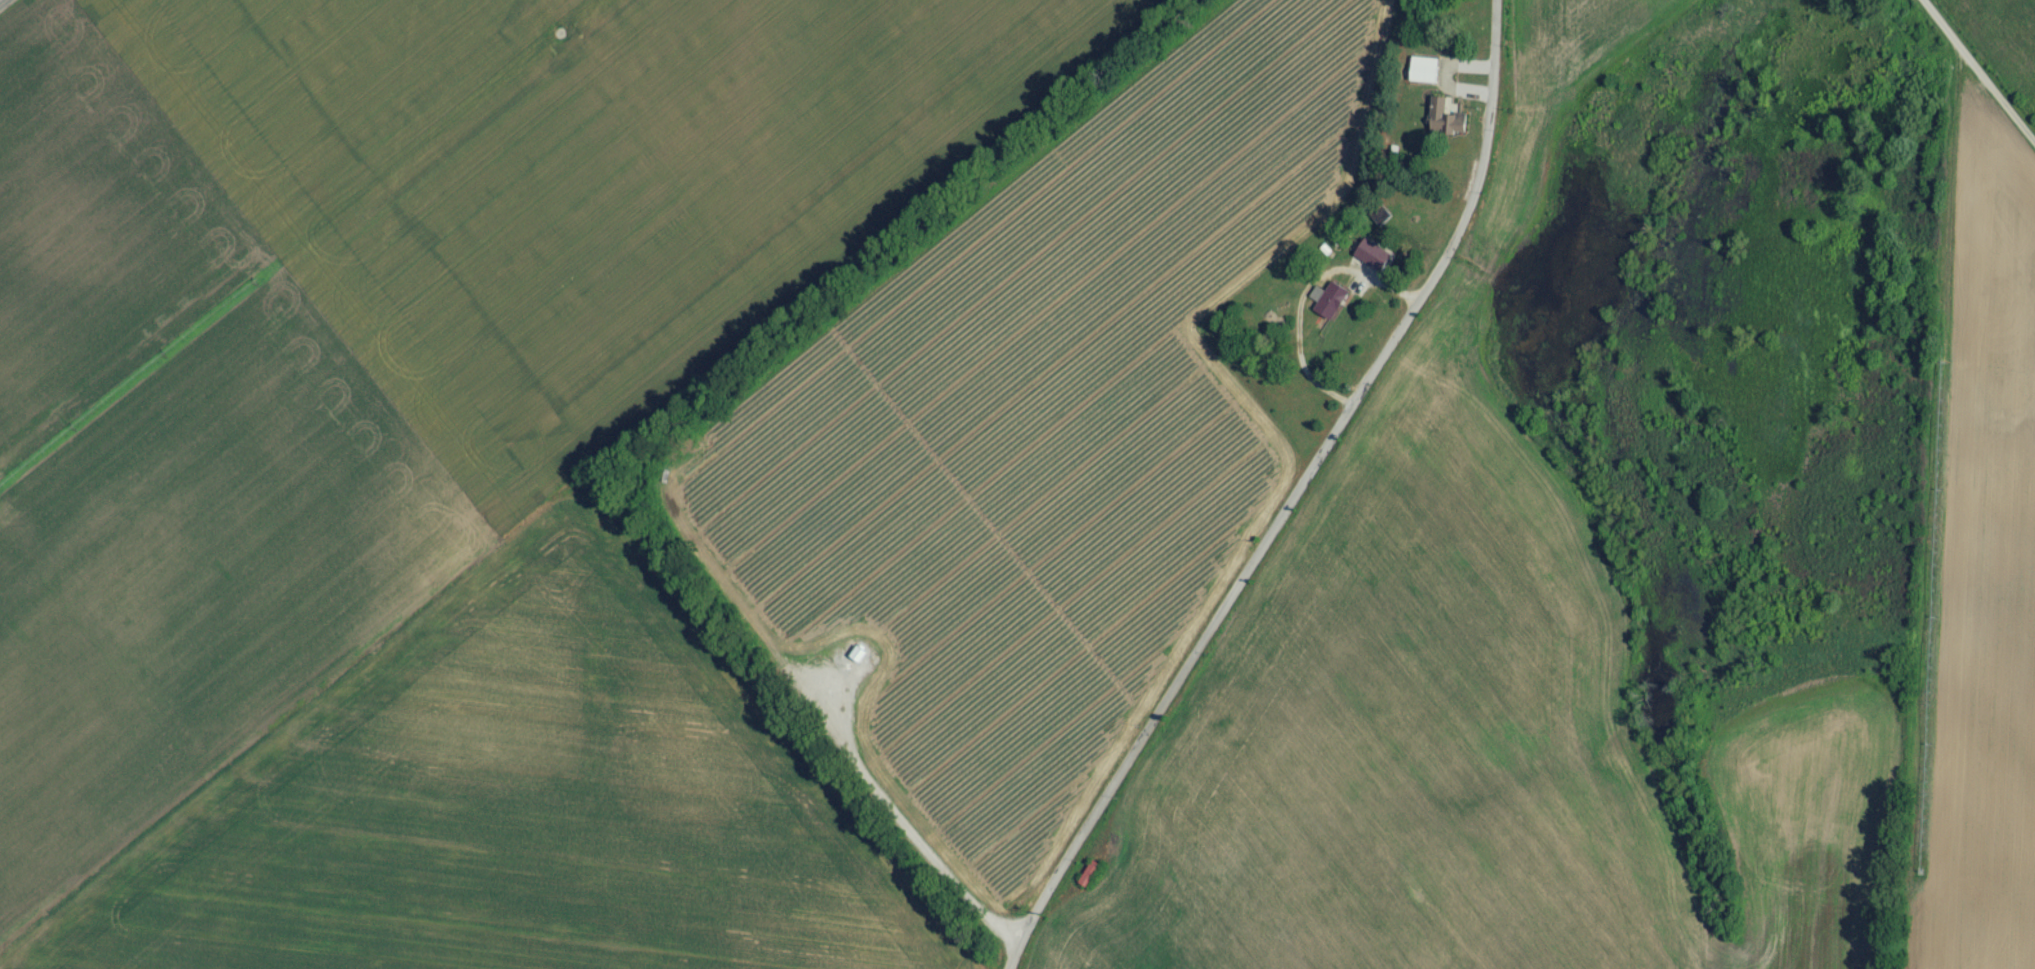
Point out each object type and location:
road: (18, 15)
road: (1979, 69)
building: (1425, 77)
building: (1448, 128)
road: (1303, 298)
building: (1331, 307)
road: (1289, 502)
building: (1091, 882)

